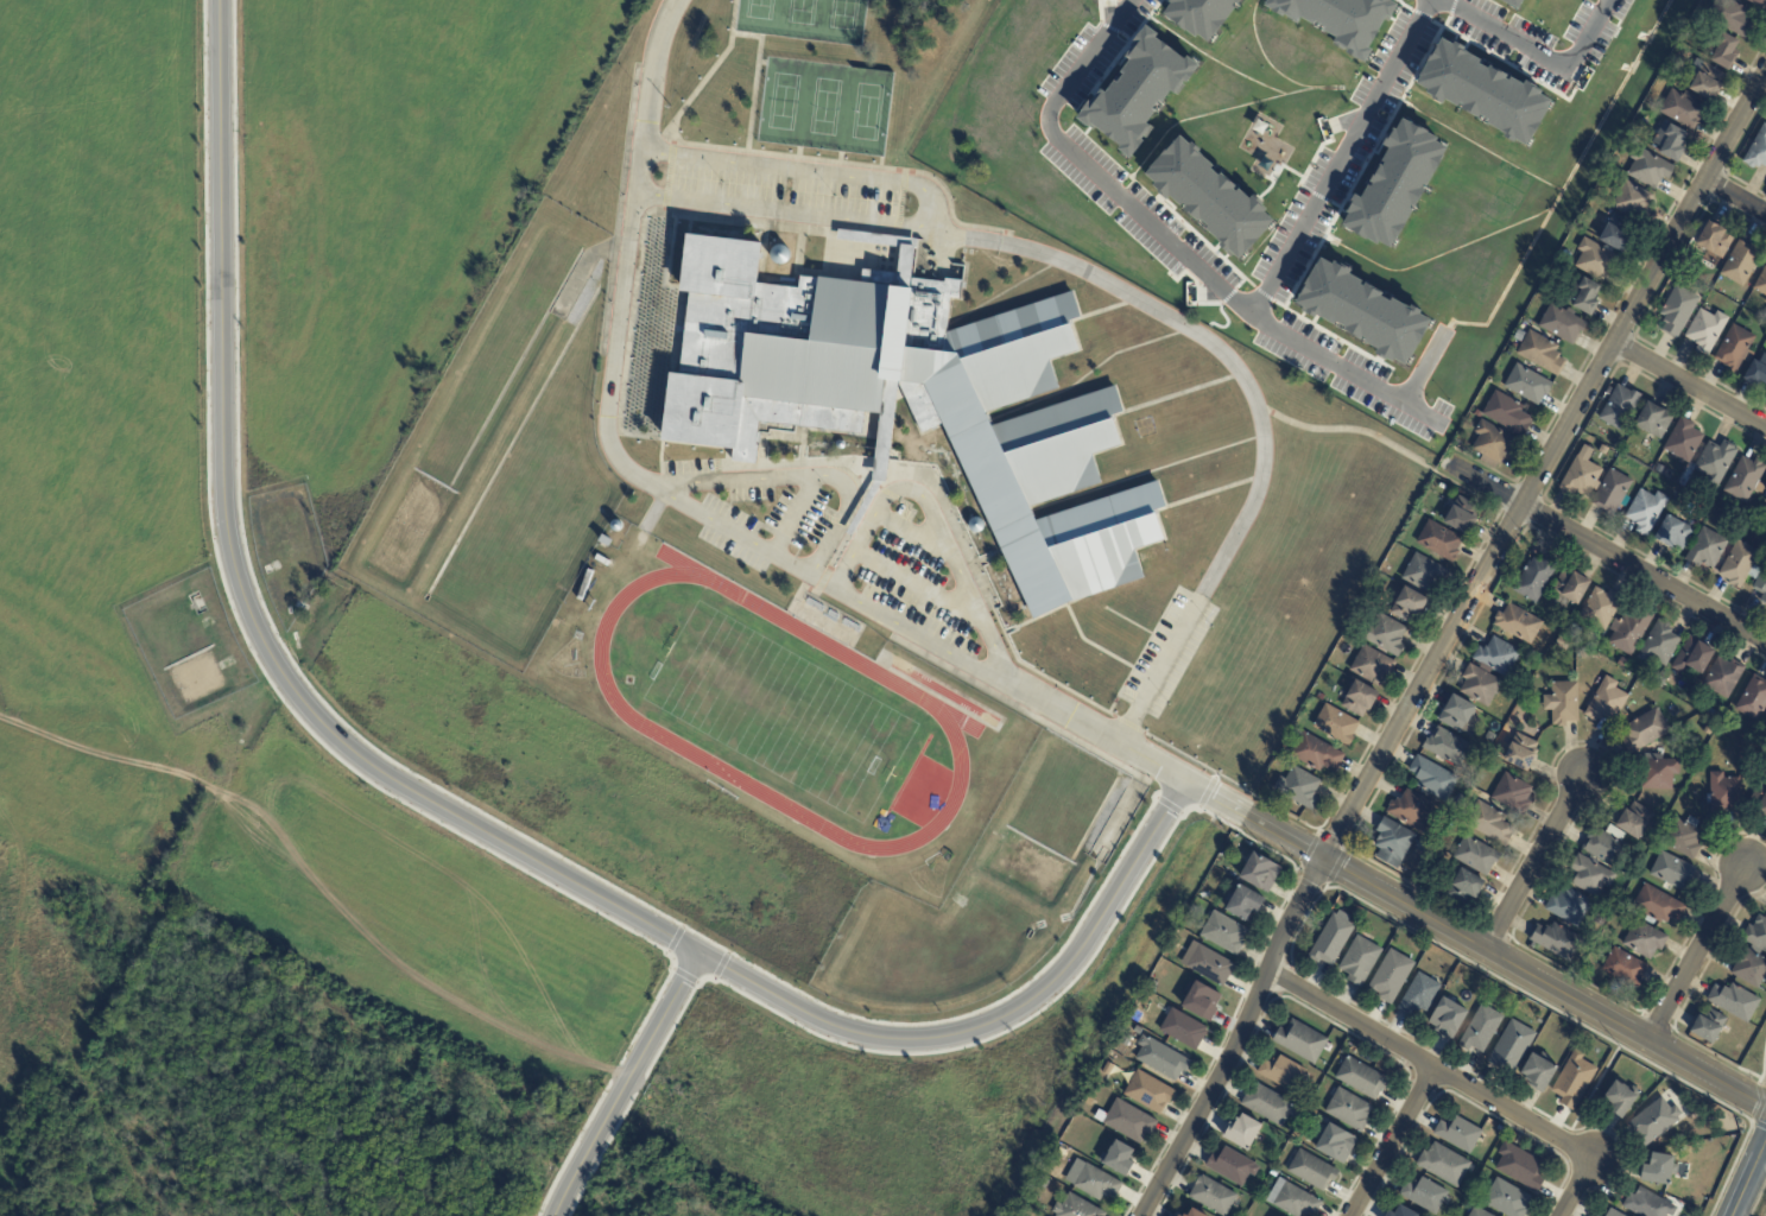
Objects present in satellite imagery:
building: (1512, 2)
building: (1759, 4)
building: (1197, 17)
building: (1335, 18)
building: (1698, 18)
park: (804, 19)
building: (1732, 19)
road: (746, 36)
building: (1722, 50)
road: (1542, 53)
road: (761, 62)
road: (709, 72)
building: (1705, 81)
building: (1137, 88)
building: (1483, 90)
road: (753, 95)
park: (824, 106)
building: (1684, 109)
building: (1670, 142)
building: (1758, 151)
road: (1341, 158)
road: (856, 165)
building: (1648, 169)
road: (805, 170)
road: (667, 176)
building: (1394, 183)
parking lot: (787, 190)
building: (1205, 197)
road: (1736, 197)
building: (1632, 201)
road: (900, 202)
road: (783, 211)
road: (646, 213)
building: (1618, 234)
road: (892, 237)
building: (1715, 241)
road: (1172, 243)
building: (778, 253)
silo: (778, 253)
road: (671, 254)
road: (627, 256)
building: (904, 260)
building: (1596, 260)
building: (1741, 264)
road: (904, 265)
building: (1761, 284)
road: (1004, 292)
building: (1583, 297)
building: (1765, 302)
road: (1101, 310)
building: (1362, 310)
building: (1678, 312)
building: (1563, 324)
building: (1707, 330)
building: (1519, 337)
building: (1514, 347)
crop: (99, 349)
building: (1736, 350)
building: (1542, 354)
road: (1426, 368)
building: (1756, 374)
road: (1690, 385)
building: (1528, 386)
building: (912, 399)
road: (1255, 403)
building: (1602, 405)
building: (1620, 408)
building: (1507, 416)
building: (1654, 422)
road: (1354, 431)
road: (768, 435)
building: (1684, 442)
building: (838, 443)
silo: (838, 443)
road: (803, 444)
building: (1494, 445)
building: (879, 446)
building: (1603, 451)
road: (662, 456)
building: (1716, 463)
building: (1659, 470)
road: (803, 475)
building: (1581, 477)
parking lot: (721, 479)
road: (878, 479)
building: (1745, 480)
building: (1765, 488)
building: (1765, 490)
building: (1613, 494)
building: (1765, 500)
building: (1765, 502)
building: (1647, 513)
road: (797, 514)
road: (951, 514)
building: (1462, 514)
road: (648, 518)
building: (614, 524)
silo: (614, 524)
parking lot: (771, 526)
road: (937, 527)
road: (736, 532)
road: (913, 534)
building: (1673, 534)
building: (1439, 540)
building: (605, 543)
building: (1765, 546)
building: (1707, 550)
road: (1608, 556)
building: (1741, 566)
building: (1428, 574)
building: (1536, 576)
road: (822, 578)
building: (1382, 579)
road: (917, 584)
building: (1571, 585)
building: (584, 587)
building: (1761, 587)
parking lot: (914, 590)
building: (1409, 604)
building: (1601, 607)
road: (804, 614)
road: (1071, 616)
building: (1519, 622)
road: (912, 631)
building: (1629, 631)
building: (1385, 633)
road: (1448, 641)
building: (1562, 642)
building: (1659, 644)
road: (1144, 650)
parking lot: (1169, 653)
building: (1532, 654)
building: (1583, 654)
building: (1499, 657)
building: (1692, 657)
building: (1622, 661)
building: (1531, 663)
building: (1372, 665)
building: (1723, 677)
building: (1660, 682)
building: (1481, 684)
building: (1321, 697)
building: (1359, 698)
building: (1753, 698)
track: (924, 699)
building: (1607, 701)
building: (1563, 703)
park: (777, 711)
building: (1711, 712)
building: (1458, 715)
building: (1765, 722)
road: (1129, 723)
building: (1336, 724)
building: (1710, 727)
building: (1647, 729)
road: (1099, 734)
building: (1448, 747)
building: (1521, 752)
building: (1317, 753)
building: (1659, 772)
building: (1433, 778)
road: (1226, 779)
building: (1299, 787)
building: (1724, 791)
building: (1513, 793)
building: (1762, 805)
building: (1412, 810)
road: (452, 813)
building: (1635, 821)
building: (1490, 824)
building: (1685, 837)
building: (1393, 842)
building: (1606, 844)
building: (1422, 845)
building: (1476, 855)
road: (1537, 863)
building: (1673, 872)
building: (1259, 873)
building: (1590, 875)
building: (1464, 887)
building: (1245, 904)
building: (1569, 906)
building: (1658, 906)
building: (1224, 933)
building: (1756, 933)
building: (1645, 939)
building: (1331, 940)
road: (1474, 940)
building: (1557, 940)
road: (1698, 954)
building: (1360, 961)
building: (1210, 965)
building: (1749, 967)
building: (1626, 968)
building: (1391, 976)
building: (1419, 995)
building: (1201, 1001)
building: (1735, 1002)
building: (1448, 1018)
building: (1709, 1026)
building: (1183, 1030)
building: (1481, 1030)
building: (1300, 1041)
building: (1512, 1046)
building: (1161, 1059)
road: (1433, 1066)
building: (1283, 1073)
building: (1538, 1073)
building: (1361, 1079)
building: (1574, 1081)
road: (624, 1083)
building: (1148, 1092)
building: (1620, 1100)
building: (1268, 1104)
building: (1349, 1110)
building: (1128, 1121)
building: (1324, 1121)
building: (1656, 1121)
building: (1241, 1132)
building: (1460, 1134)
building: (1677, 1139)
building: (1333, 1142)
road: (1394, 1142)
building: (1062, 1153)
building: (1119, 1159)
building: (1444, 1165)
building: (1232, 1166)
building: (1520, 1167)
building: (1659, 1170)
building: (1312, 1171)
road: (1748, 1179)
building: (1096, 1184)
road: (1578, 1187)
building: (1213, 1196)
building: (1424, 1196)
building: (1292, 1199)
building: (1507, 1199)
building: (1648, 1204)
building: (1075, 1208)
building: (1403, 1212)
building: (1479, 1212)
building: (1194, 1214)
building: (1613, 1214)
building: (1179, 1215)
building: (1390, 1215)
building: (1596, 1215)
building: (1599, 1215)

